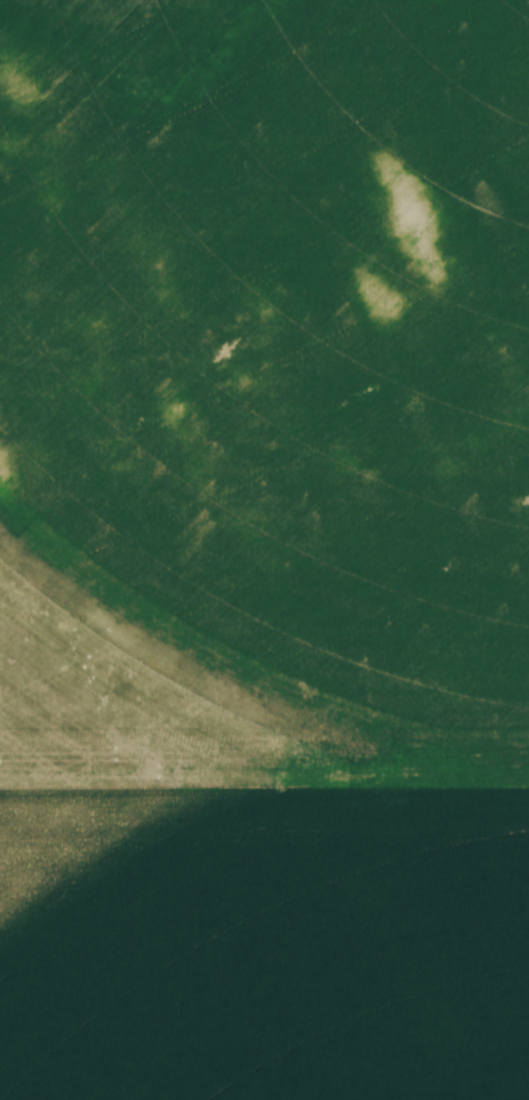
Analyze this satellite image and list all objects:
crop: (264, 549)

